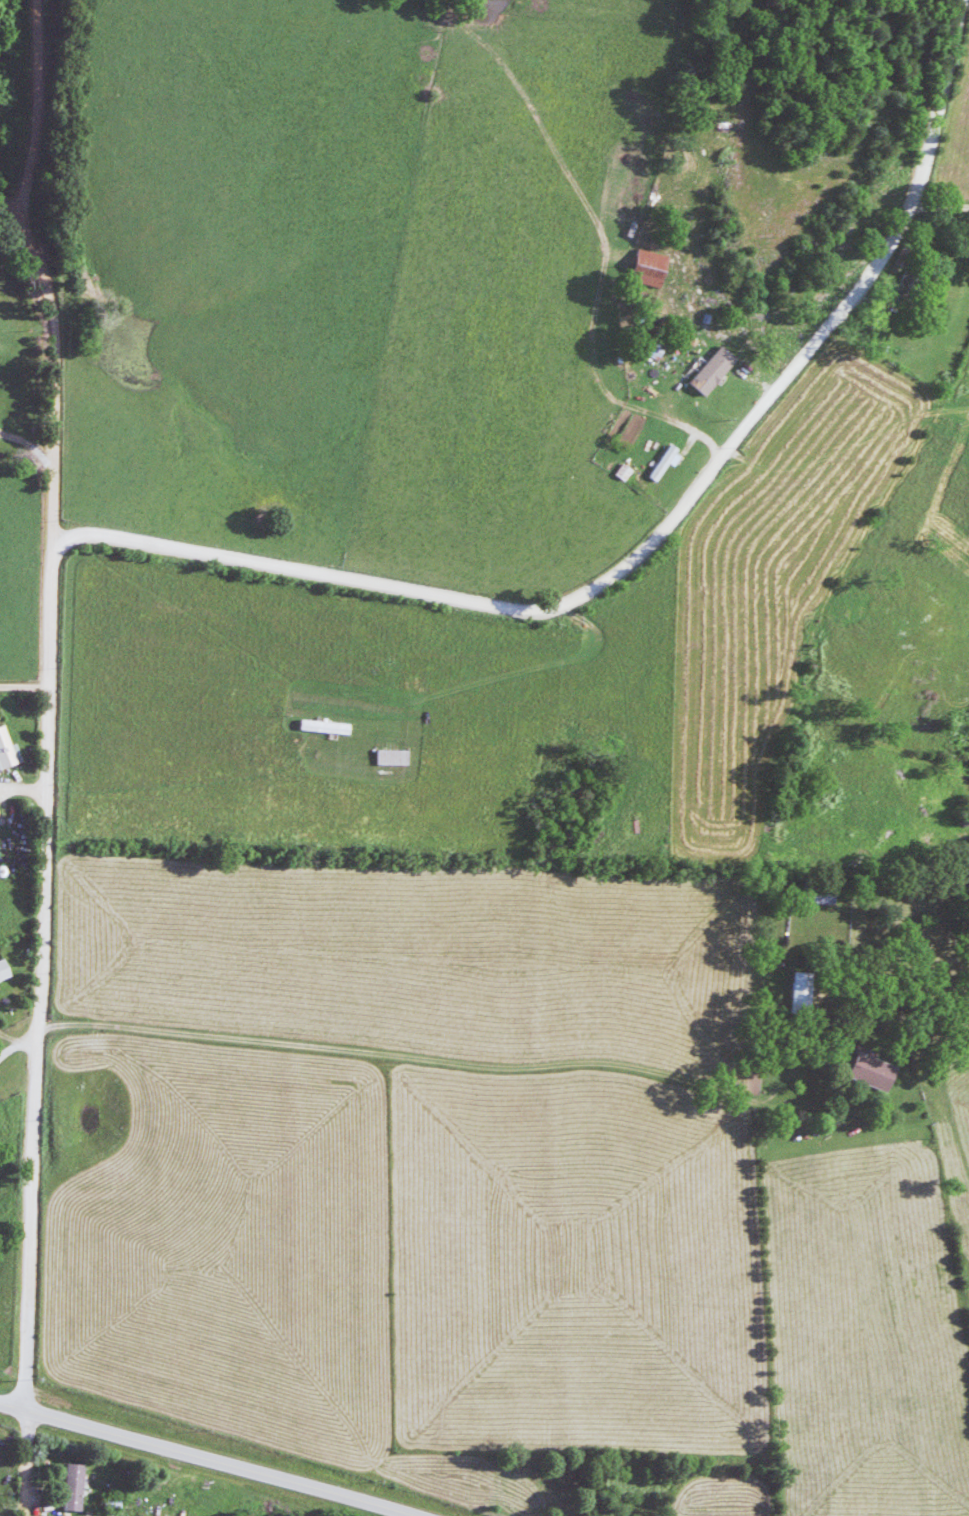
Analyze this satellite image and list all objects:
road: (7, 217)
road: (23, 238)
building: (639, 266)
building: (648, 349)
building: (704, 370)
building: (656, 462)
road: (51, 474)
road: (654, 538)
road: (24, 686)
building: (7, 751)
road: (24, 791)
building: (811, 890)
building: (3, 971)
road: (41, 974)
building: (794, 995)
road: (17, 1045)
road: (503, 1067)
building: (862, 1070)
road: (685, 1361)
road: (13, 1404)
road: (21, 1461)
road: (223, 1461)
building: (72, 1487)

